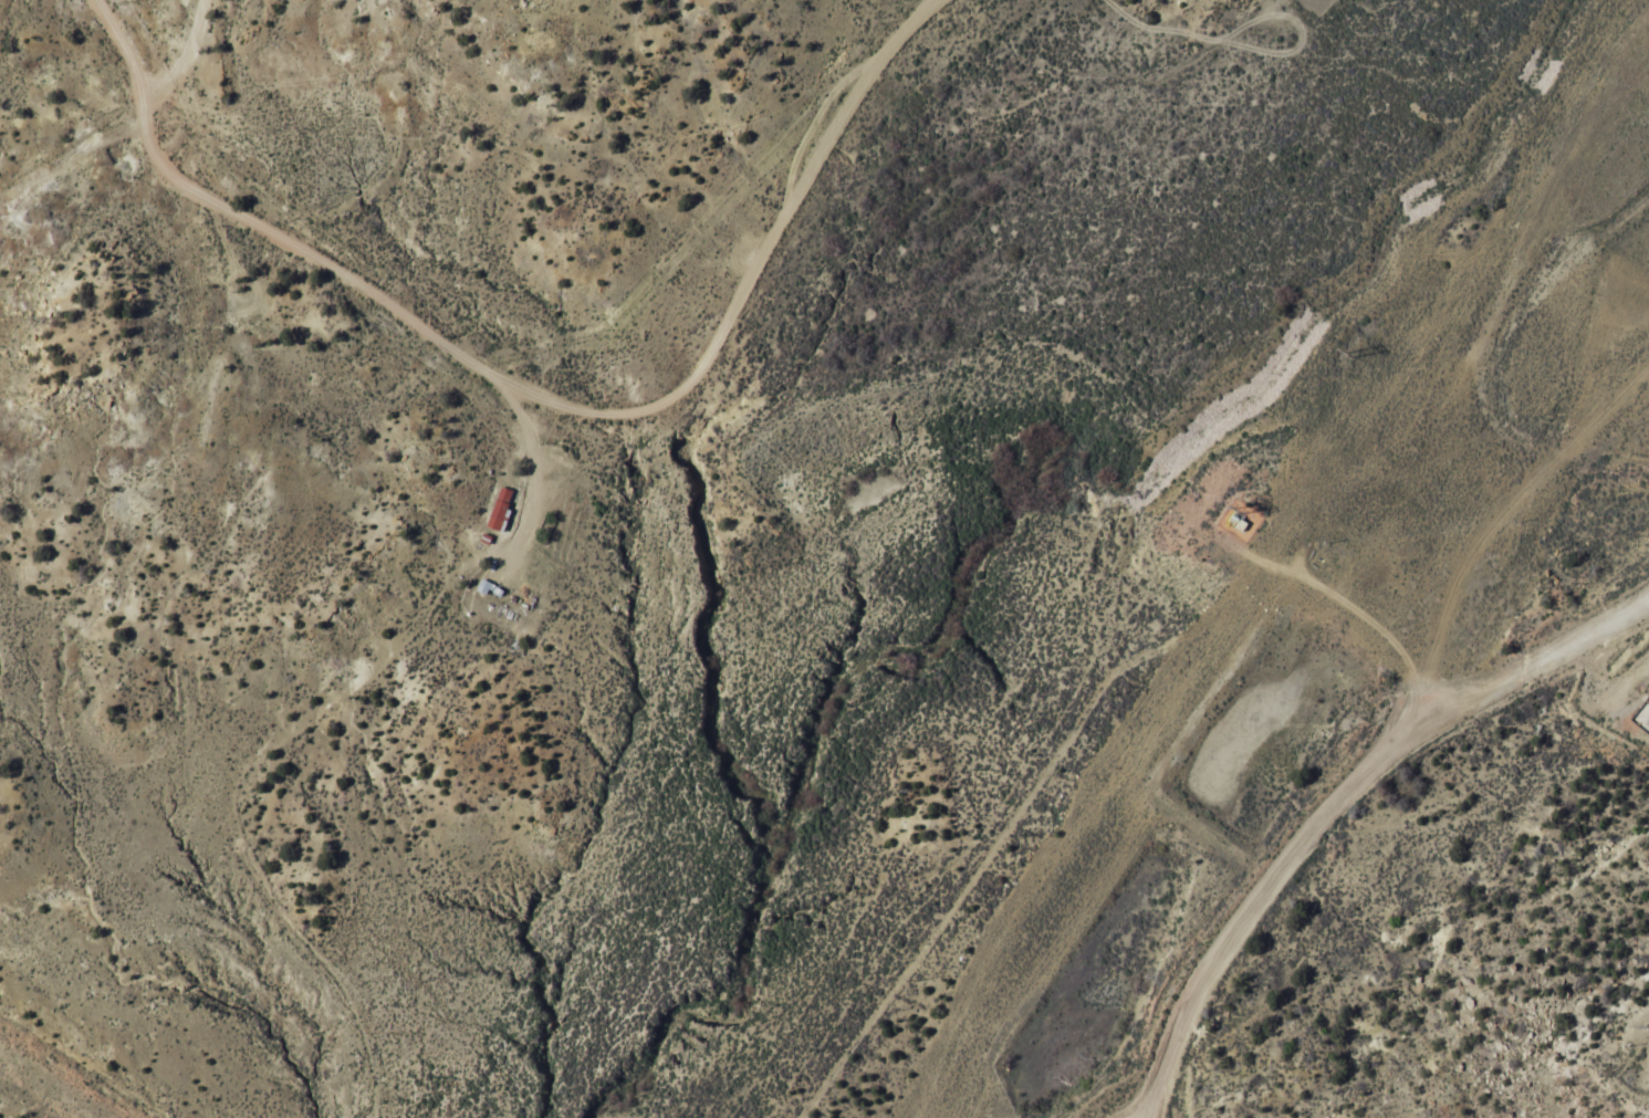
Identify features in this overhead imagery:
road: (536, 391)
building: (1366, 503)
building: (501, 506)
railway: (1285, 570)
building: (1642, 717)

